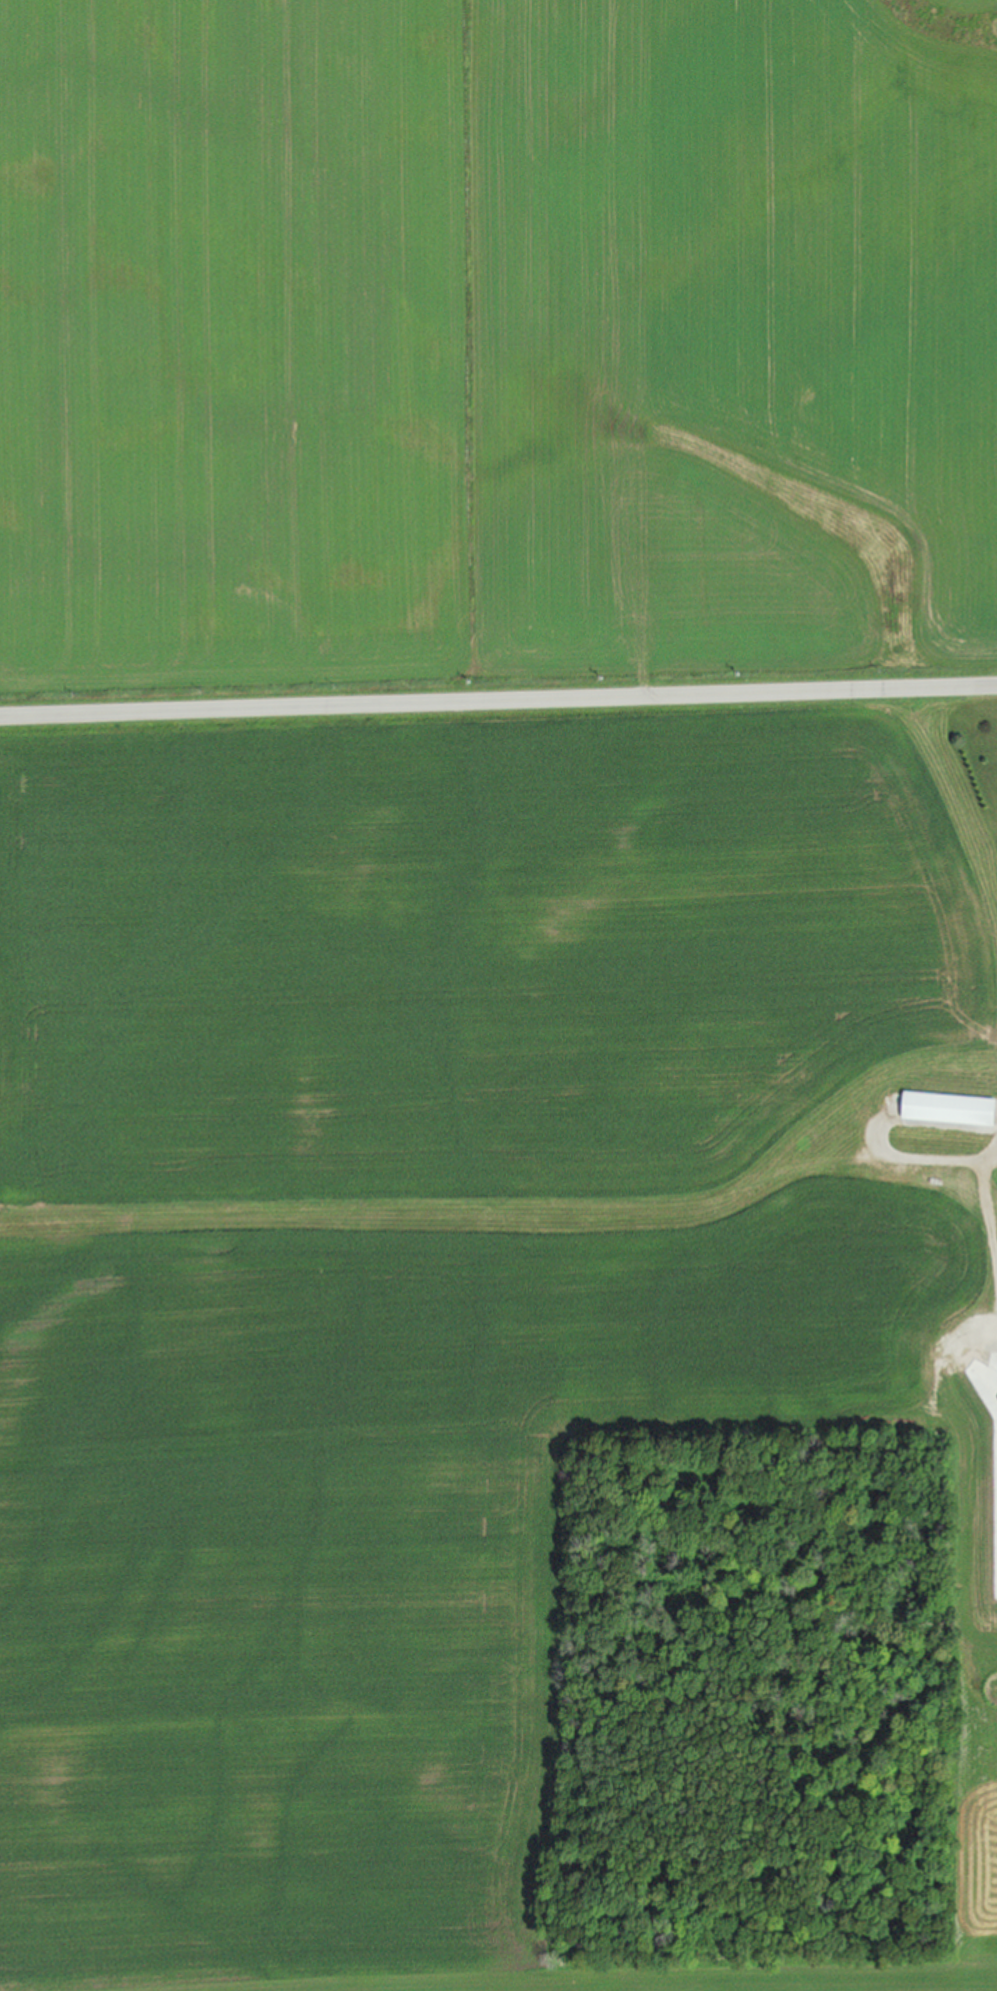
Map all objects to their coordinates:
road: (498, 700)
building: (949, 1110)

